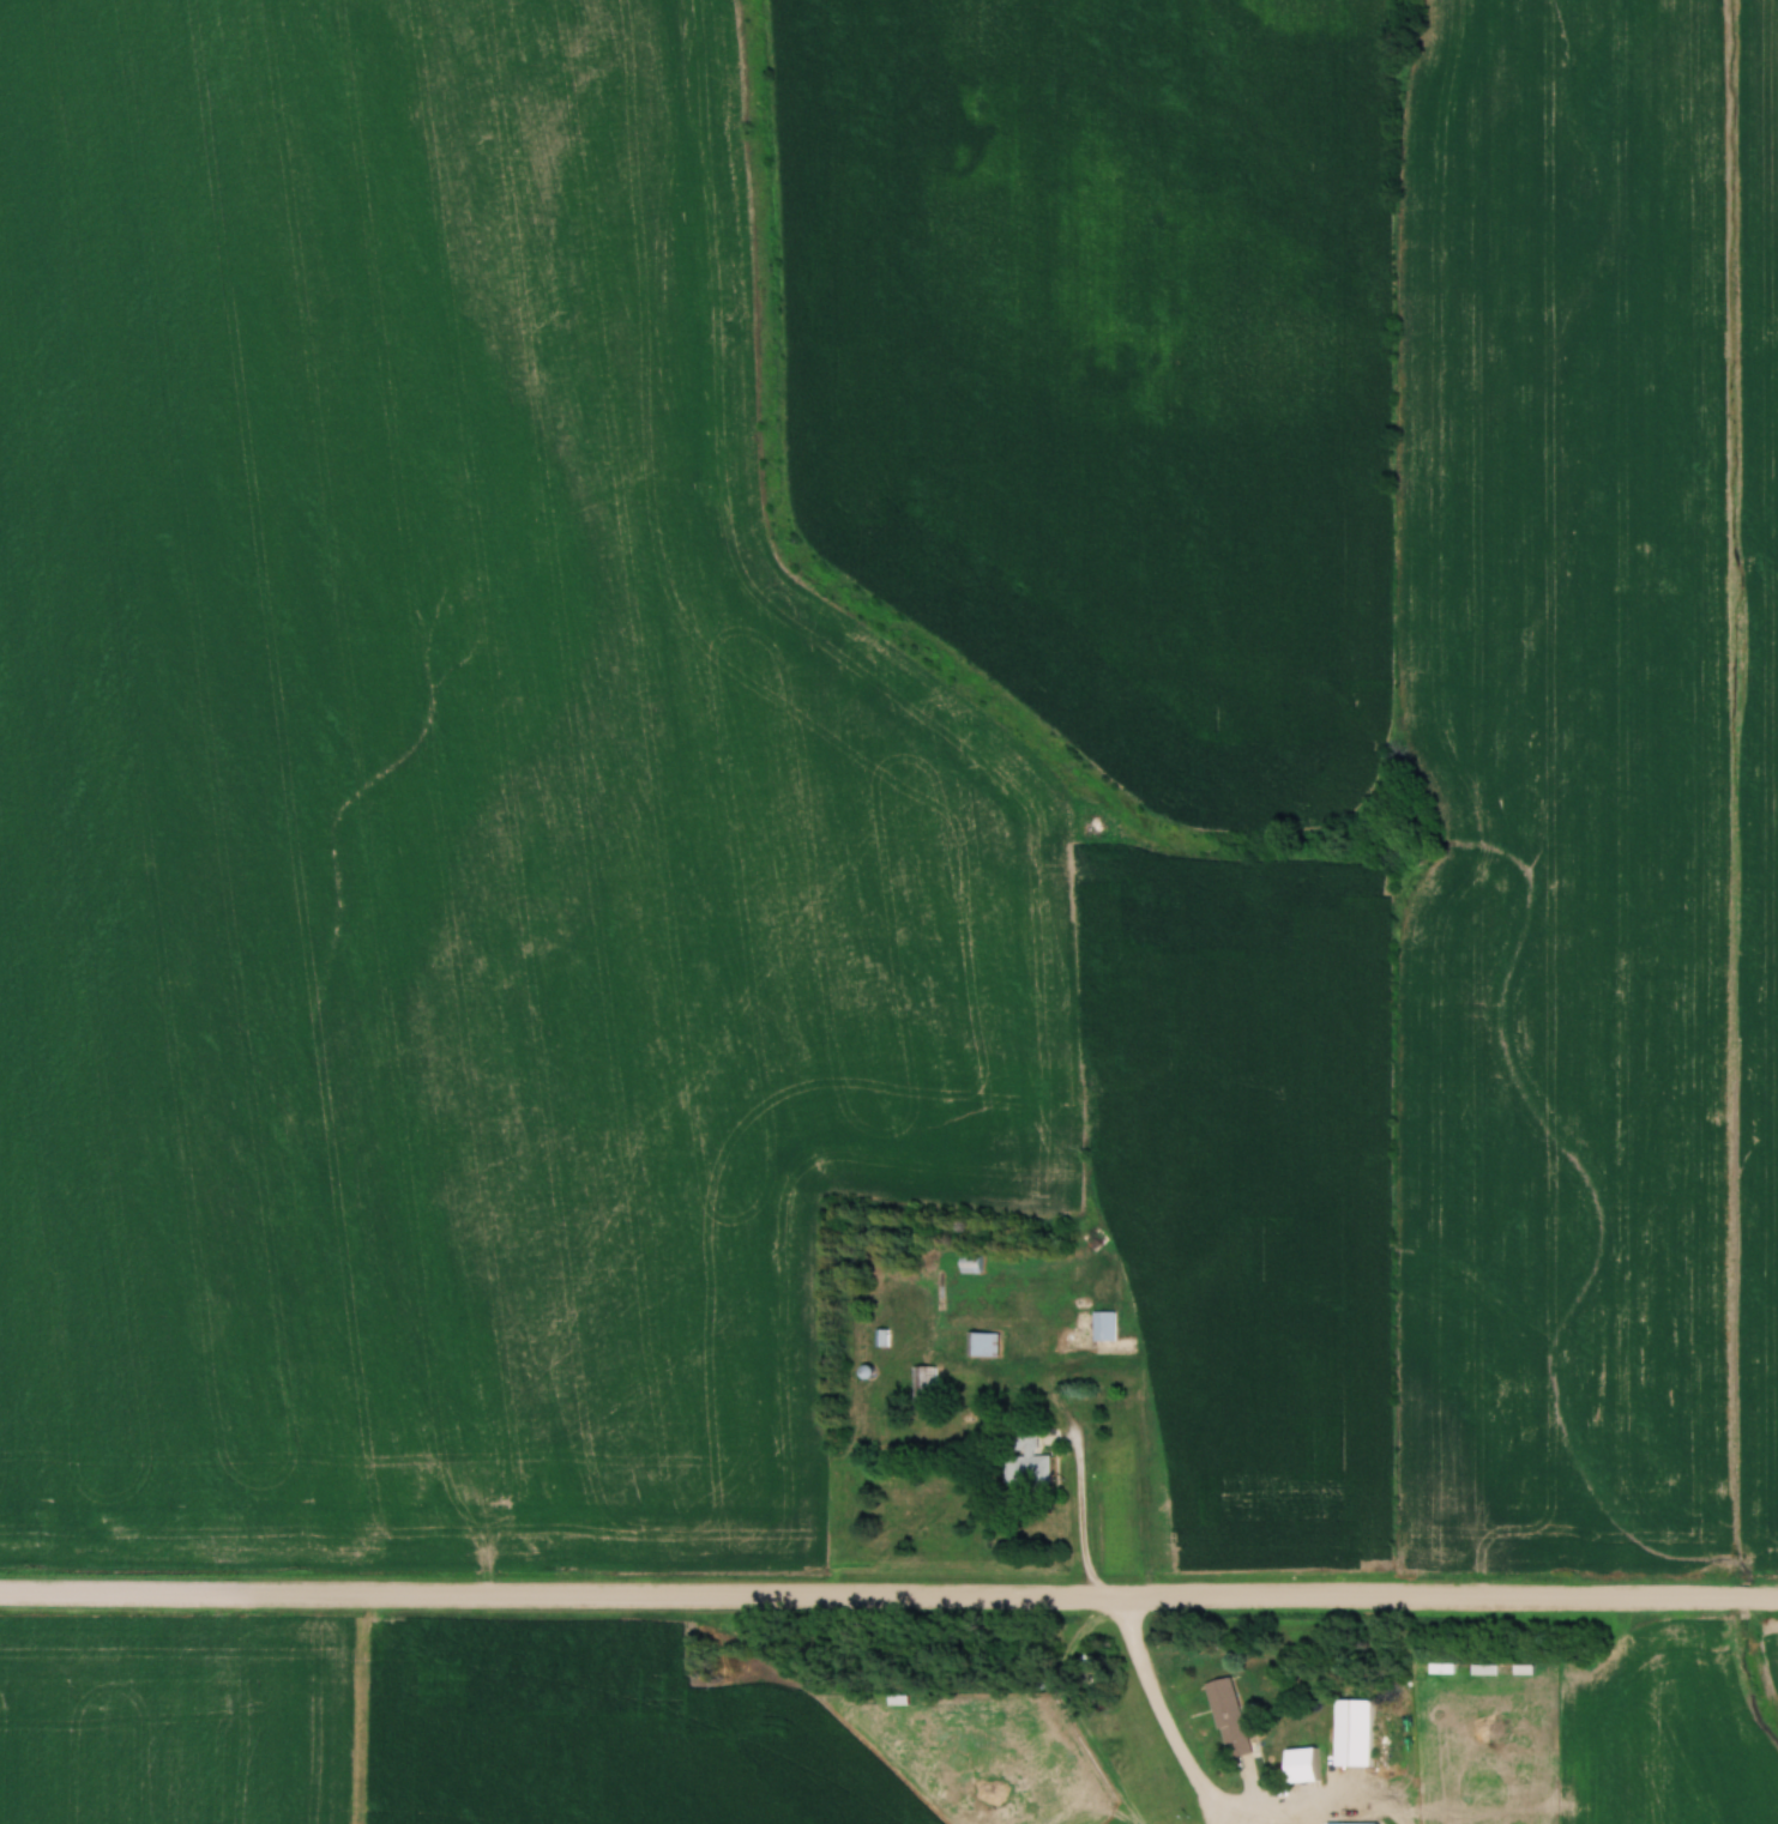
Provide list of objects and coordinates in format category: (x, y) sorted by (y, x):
building: (968, 1264)
building: (1101, 1327)
building: (981, 1346)
building: (921, 1389)
building: (1023, 1461)
road: (1080, 1518)
road: (888, 1595)
road: (1066, 1709)
road: (1162, 1715)
building: (1224, 1717)
building: (1349, 1732)
road: (1340, 1796)
building: (1348, 1823)

